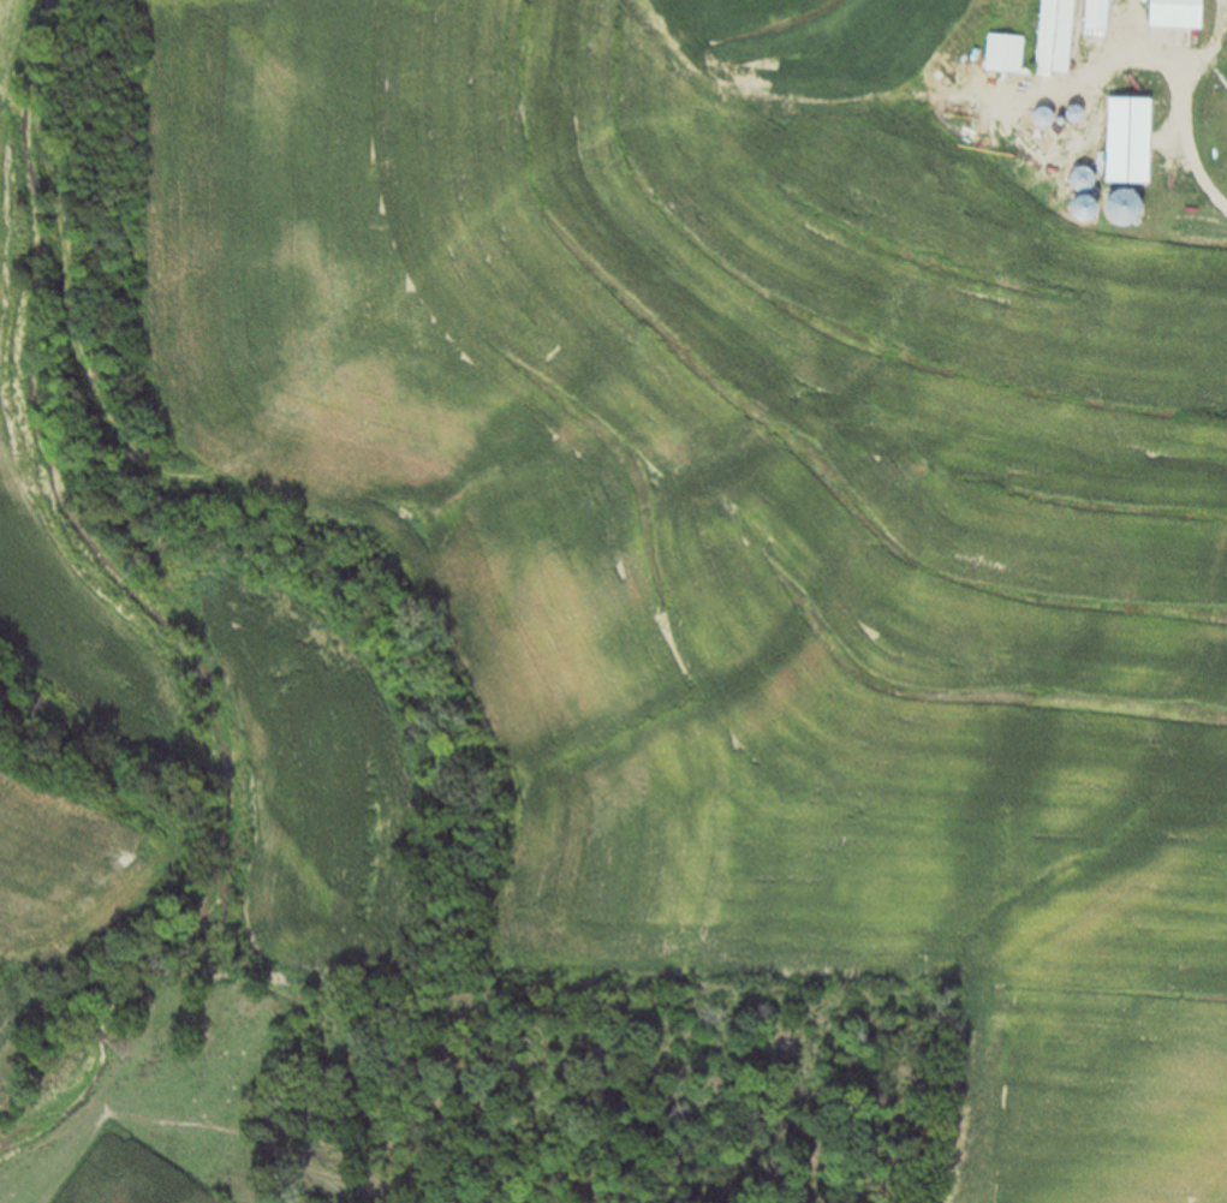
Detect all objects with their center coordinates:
building: (1171, 13)
building: (1094, 16)
building: (1052, 36)
building: (1000, 54)
building: (1125, 139)
road: (1187, 147)
building: (1113, 204)

